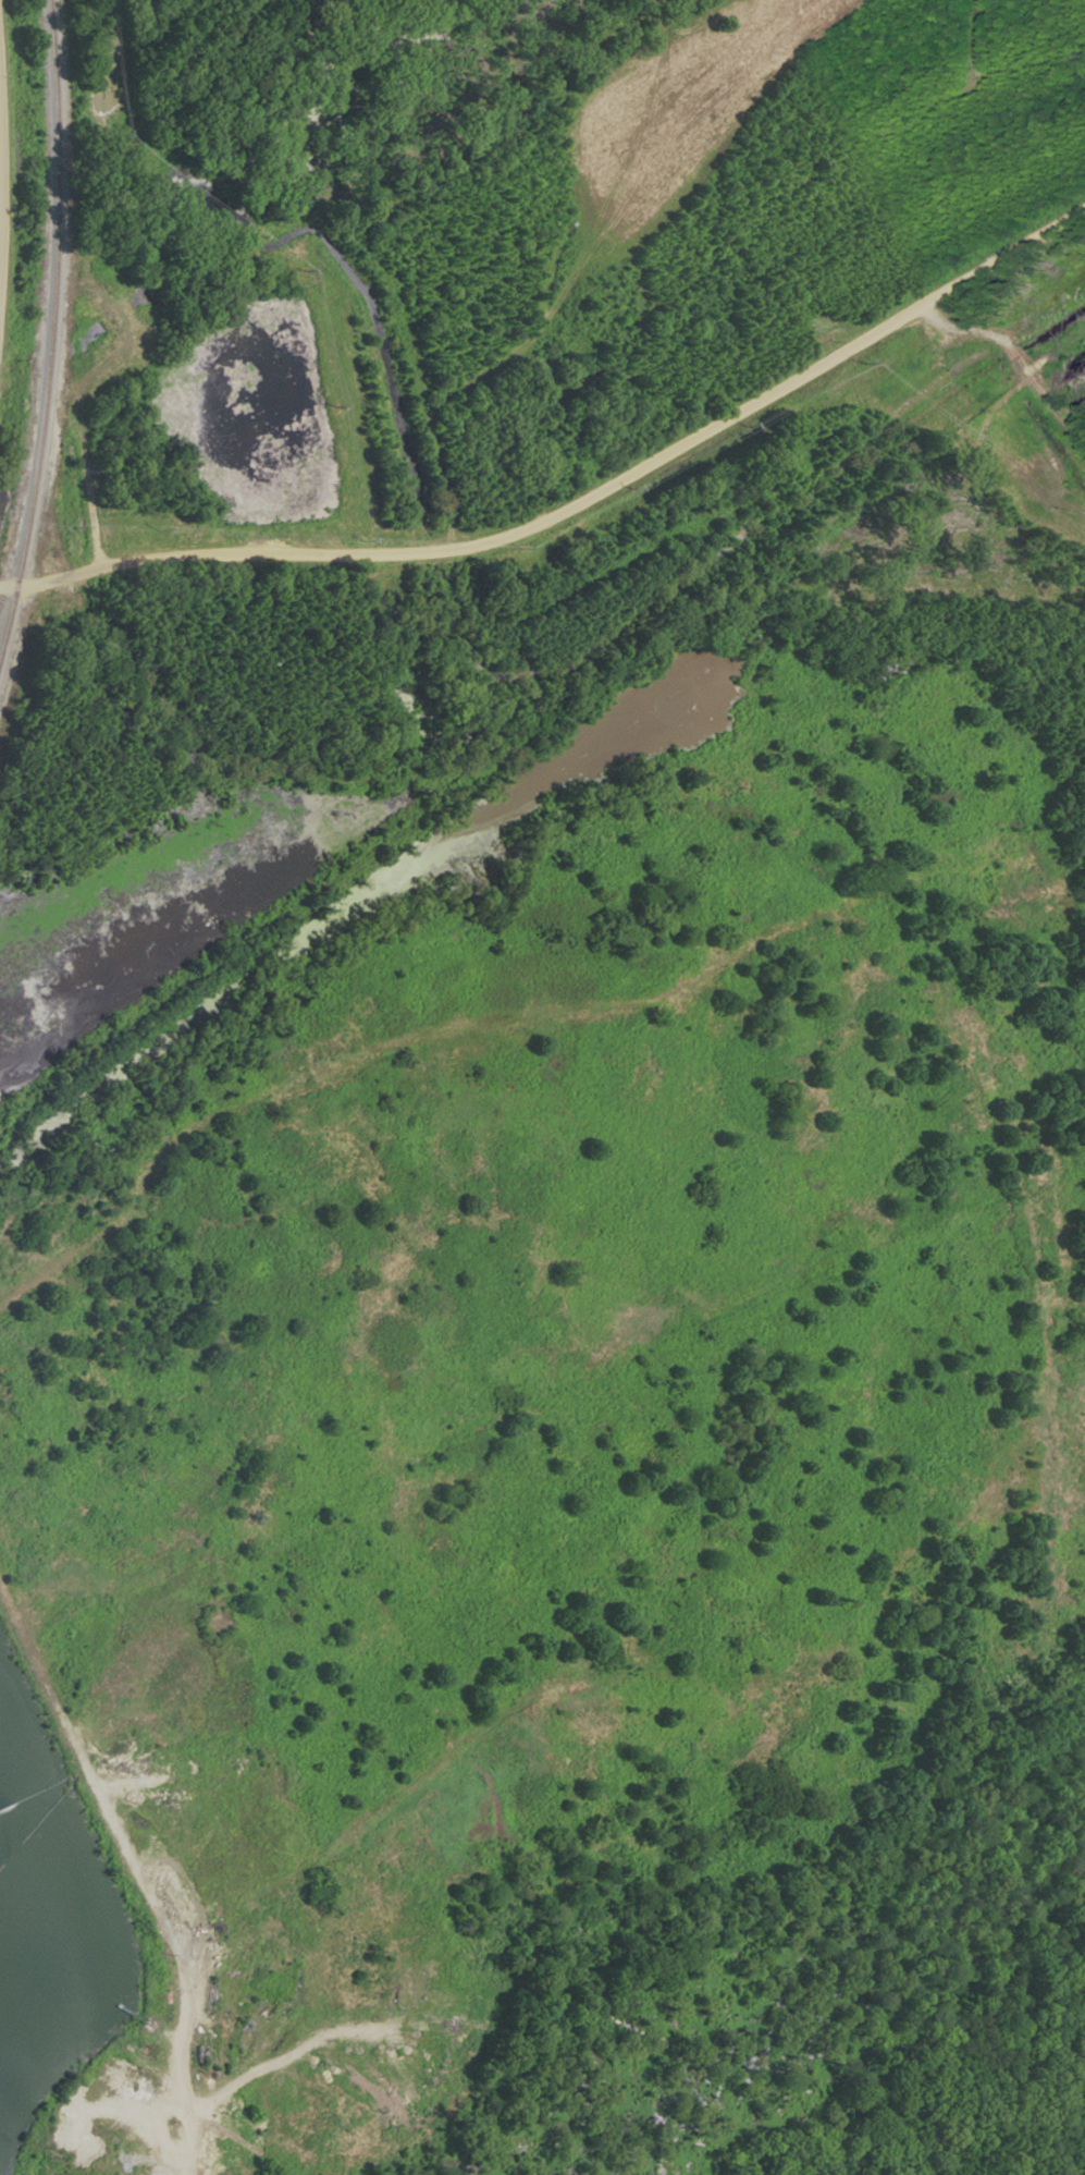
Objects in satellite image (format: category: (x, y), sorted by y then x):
railway: (51, 326)
road: (575, 501)
railway: (352, 864)
road: (62, 1263)
road: (122, 1852)
road: (192, 2146)

